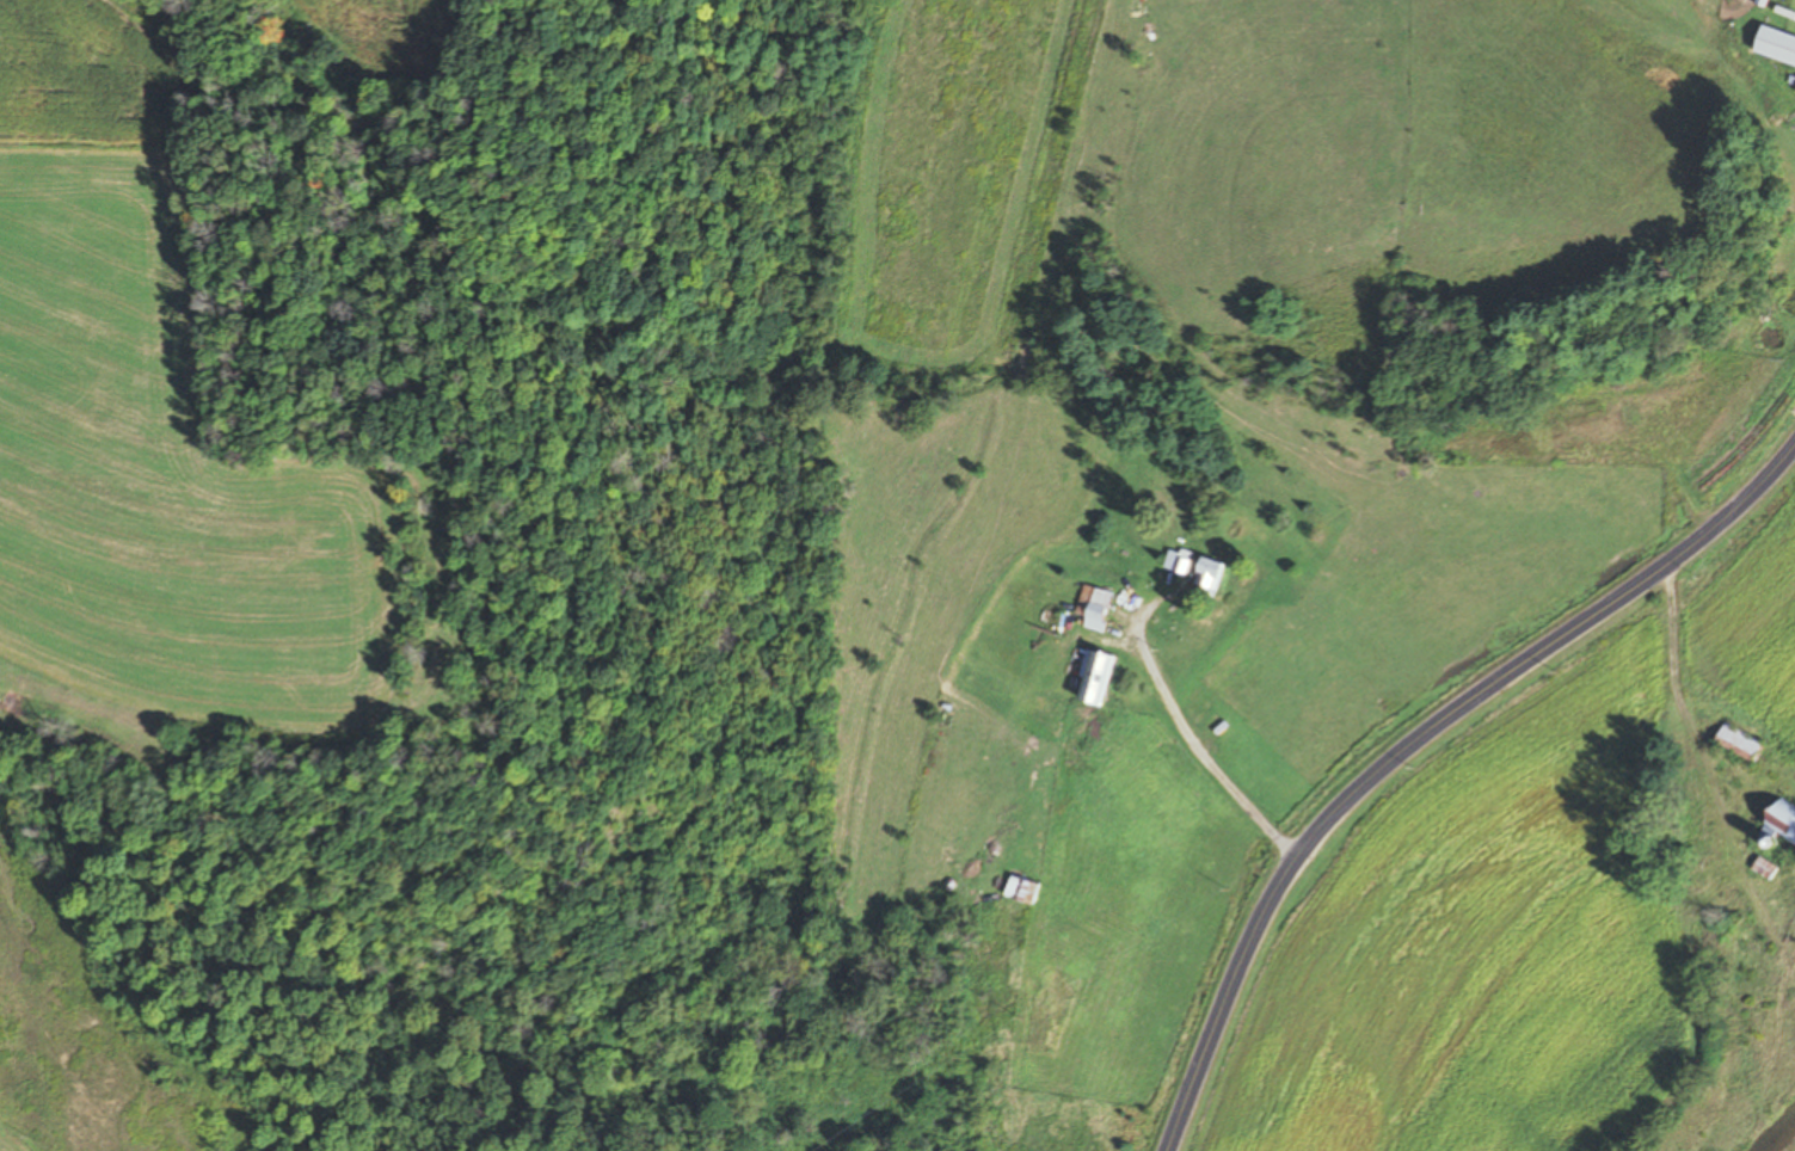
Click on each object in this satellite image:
building: (1774, 45)
building: (1794, 91)
building: (1568, 413)
building: (1175, 561)
building: (1205, 575)
building: (1092, 610)
building: (1090, 681)
road: (1193, 740)
building: (1738, 743)
road: (1414, 745)
building: (1781, 821)
road: (1698, 854)
building: (1763, 869)
building: (1016, 891)
river: (1775, 1128)

